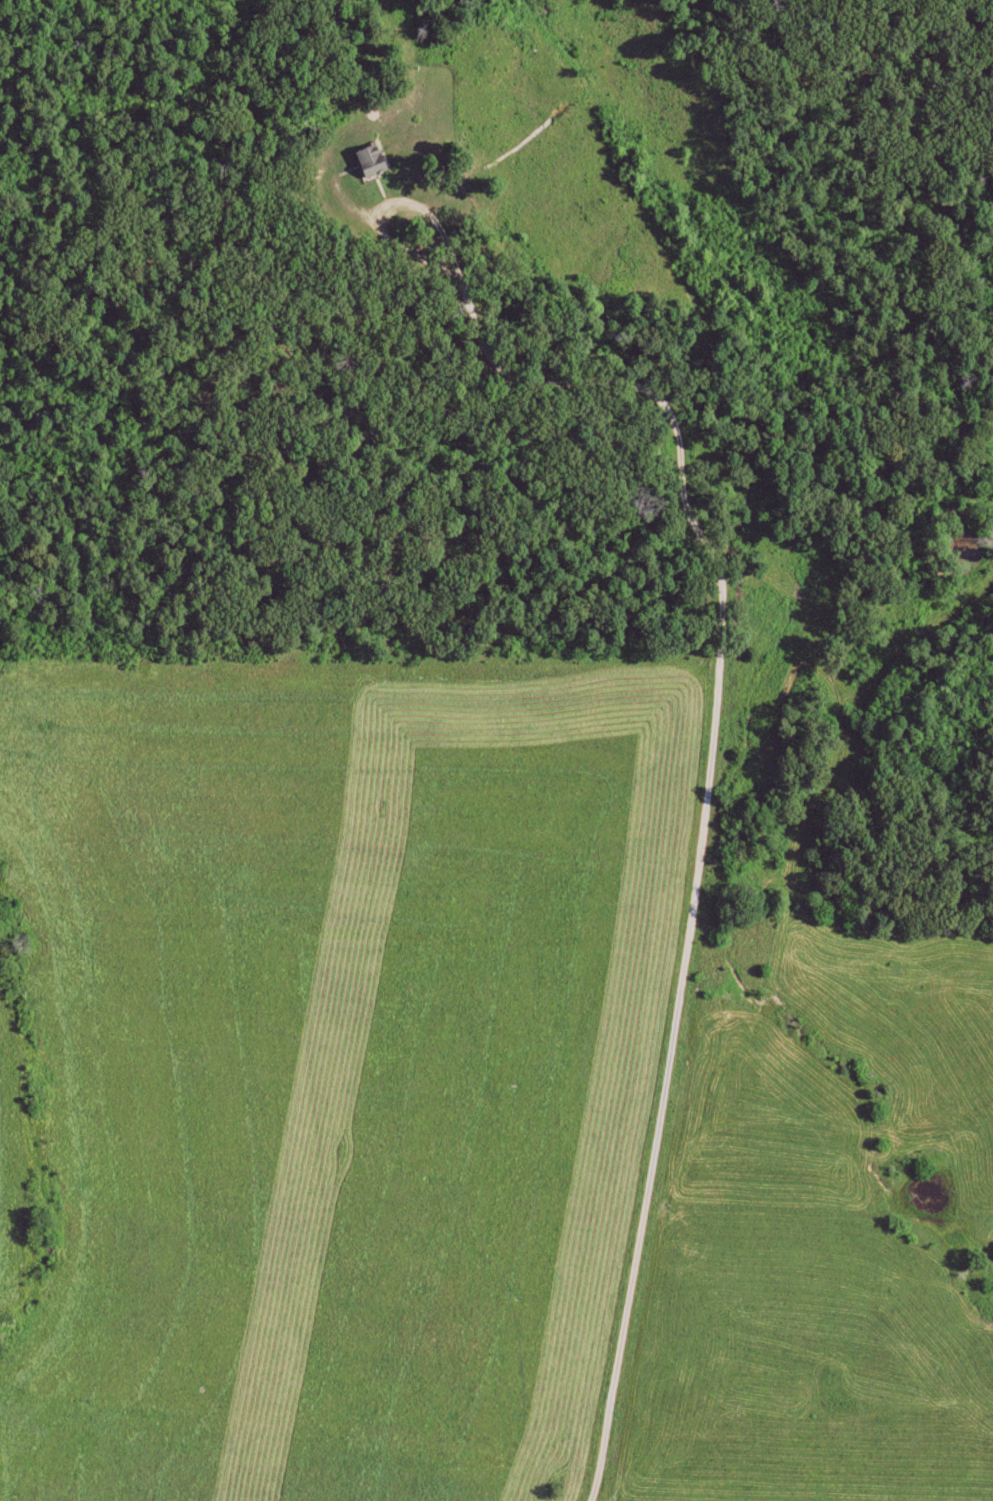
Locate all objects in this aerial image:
road: (672, 1068)

